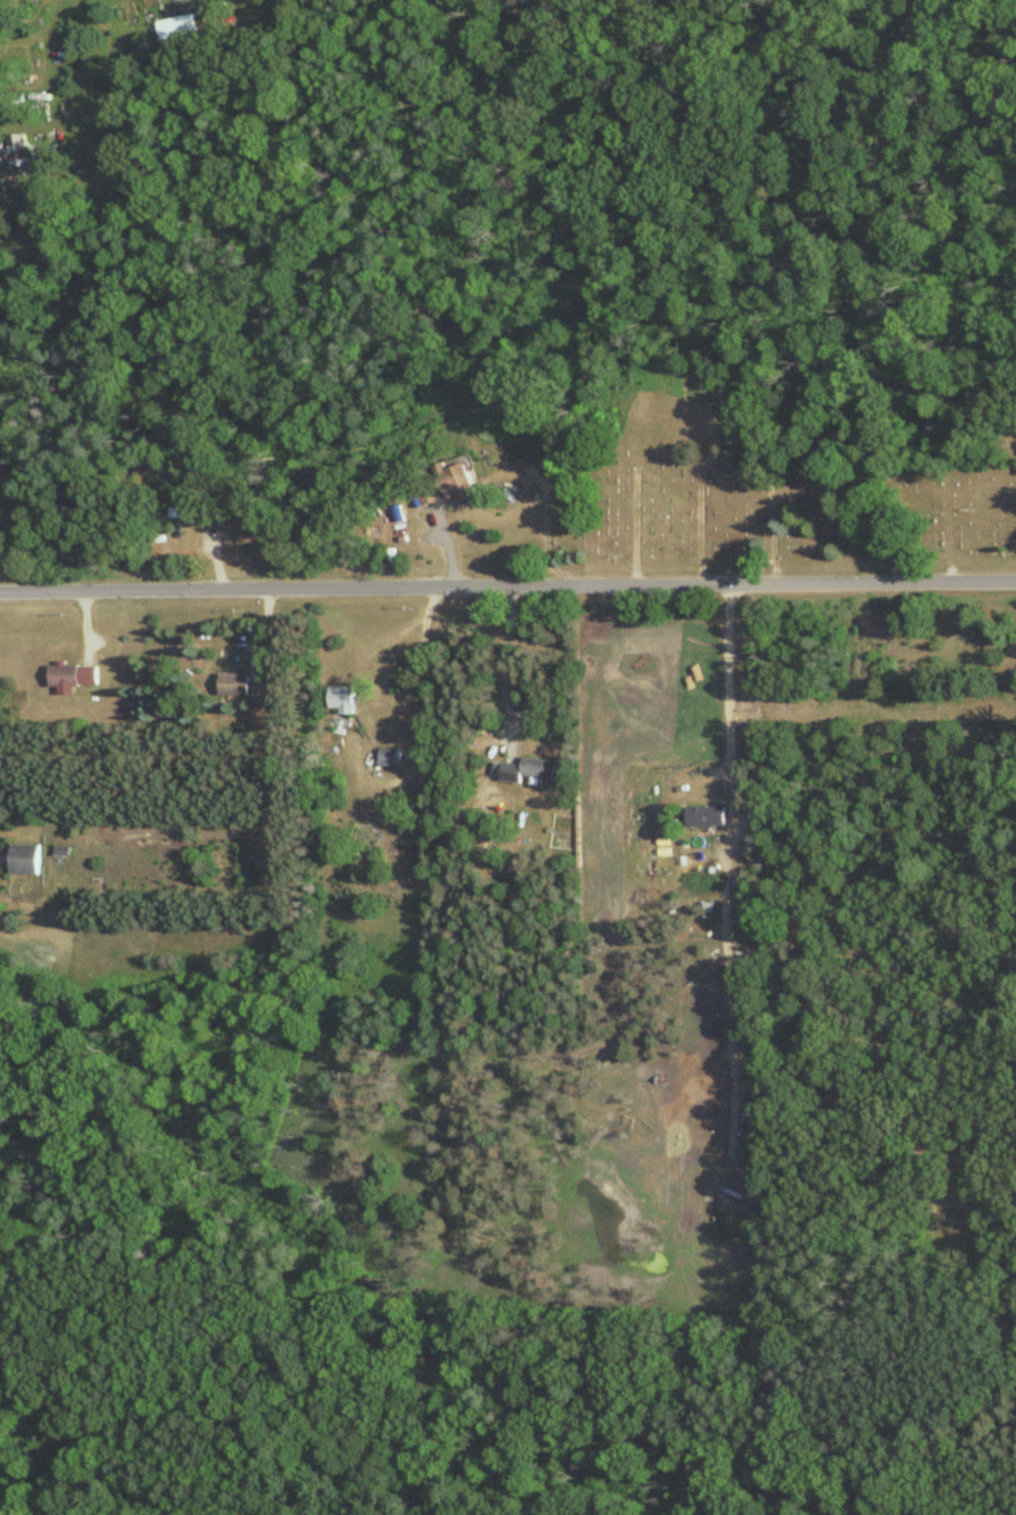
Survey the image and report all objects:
building: (173, 29)
building: (17, 150)
building: (446, 486)
building: (194, 514)
road: (507, 588)
road: (507, 654)
building: (71, 678)
building: (234, 686)
building: (263, 692)
building: (343, 700)
building: (387, 758)
building: (527, 770)
building: (703, 818)
building: (24, 860)
road: (721, 868)

